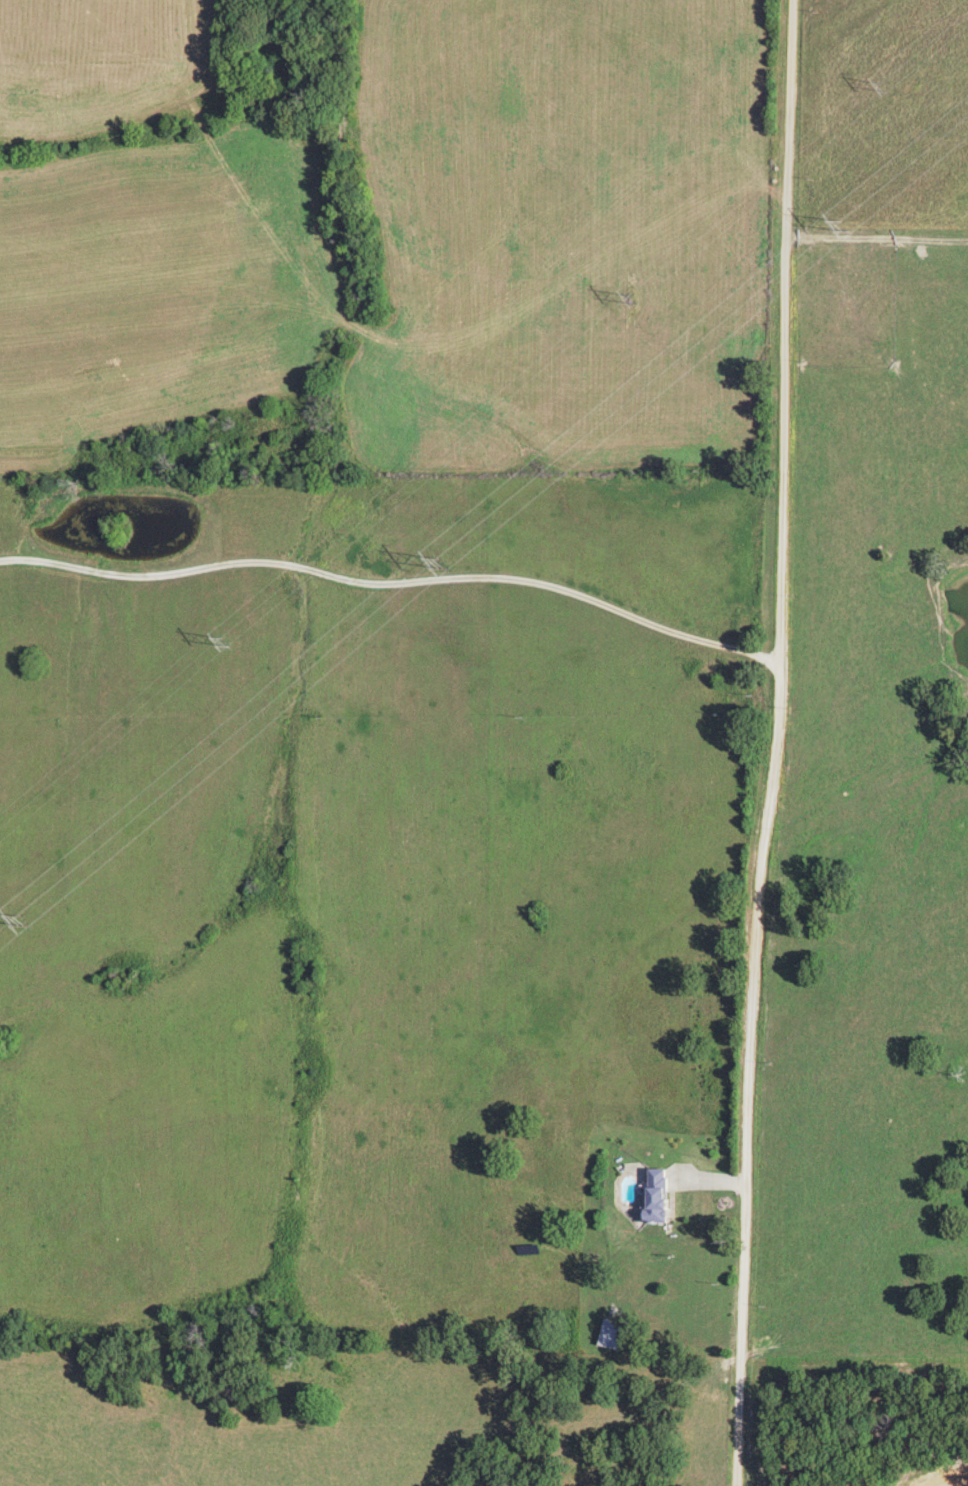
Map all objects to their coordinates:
power tower: (847, 225)
power tower: (454, 564)
road: (395, 582)
road: (777, 743)
power tower: (27, 921)
building: (658, 1195)
building: (612, 1336)

